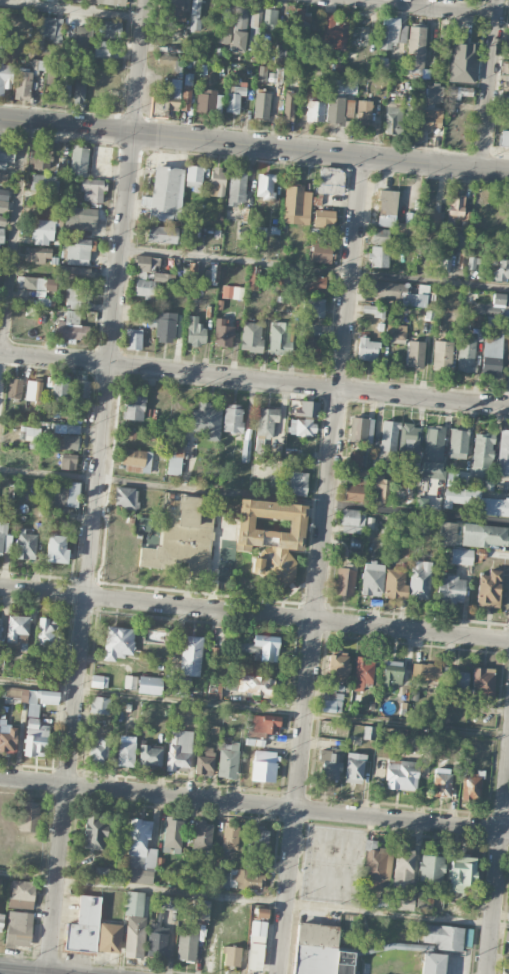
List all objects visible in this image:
building: (109, 2)
road: (435, 7)
building: (175, 9)
road: (72, 10)
building: (195, 15)
building: (224, 17)
building: (255, 17)
building: (240, 18)
building: (270, 20)
building: (300, 22)
building: (508, 24)
building: (47, 26)
building: (111, 28)
building: (332, 31)
building: (0, 32)
building: (392, 32)
building: (81, 37)
building: (444, 37)
building: (222, 38)
building: (416, 47)
building: (102, 49)
building: (462, 59)
building: (169, 60)
building: (382, 61)
building: (178, 68)
building: (507, 69)
building: (262, 73)
building: (276, 76)
building: (5, 77)
building: (506, 83)
road: (490, 84)
building: (22, 86)
building: (343, 86)
building: (65, 89)
building: (186, 90)
building: (78, 91)
building: (459, 92)
building: (434, 93)
building: (235, 98)
building: (205, 100)
building: (163, 101)
building: (261, 104)
building: (288, 104)
building: (330, 110)
building: (506, 112)
building: (364, 113)
building: (393, 117)
building: (425, 121)
building: (504, 138)
road: (254, 144)
building: (6, 155)
building: (41, 156)
building: (79, 160)
building: (3, 177)
building: (193, 177)
building: (331, 180)
building: (218, 181)
building: (44, 182)
building: (264, 185)
building: (236, 188)
building: (92, 190)
building: (165, 193)
building: (3, 202)
building: (296, 204)
building: (387, 208)
building: (458, 209)
building: (81, 218)
building: (323, 218)
building: (1, 229)
building: (43, 231)
building: (257, 234)
building: (162, 235)
building: (461, 243)
building: (379, 248)
building: (432, 248)
building: (75, 253)
building: (321, 253)
road: (13, 254)
building: (37, 254)
building: (472, 263)
building: (192, 267)
road: (314, 270)
building: (502, 270)
building: (211, 272)
building: (77, 273)
building: (145, 277)
building: (253, 278)
building: (31, 282)
building: (313, 283)
building: (232, 292)
building: (398, 293)
building: (75, 295)
building: (315, 307)
building: (69, 325)
building: (165, 327)
building: (194, 332)
building: (223, 332)
building: (397, 333)
building: (251, 337)
building: (280, 337)
building: (133, 339)
building: (309, 343)
building: (368, 349)
building: (442, 353)
building: (415, 354)
building: (466, 354)
building: (490, 356)
building: (507, 361)
road: (254, 381)
building: (60, 385)
building: (82, 388)
building: (15, 389)
building: (33, 390)
building: (133, 407)
building: (208, 417)
building: (232, 418)
building: (306, 418)
building: (267, 422)
building: (66, 428)
building: (29, 433)
building: (129, 434)
building: (389, 436)
building: (409, 437)
building: (66, 442)
building: (458, 443)
building: (245, 450)
building: (433, 451)
building: (503, 451)
building: (482, 456)
building: (354, 458)
building: (174, 459)
building: (136, 460)
building: (68, 461)
building: (297, 483)
building: (503, 484)
road: (95, 485)
building: (488, 485)
road: (163, 488)
building: (382, 488)
building: (354, 490)
building: (406, 492)
building: (65, 494)
building: (126, 498)
building: (477, 501)
building: (421, 502)
road: (418, 513)
building: (352, 521)
building: (447, 533)
building: (183, 534)
building: (270, 535)
building: (484, 535)
building: (5, 540)
building: (26, 543)
building: (57, 550)
building: (461, 556)
road: (321, 565)
building: (372, 579)
building: (345, 580)
building: (419, 580)
building: (395, 584)
building: (450, 589)
building: (489, 589)
building: (0, 614)
road: (254, 614)
building: (17, 632)
building: (45, 632)
building: (117, 642)
building: (261, 648)
building: (190, 655)
building: (338, 667)
building: (363, 672)
building: (425, 672)
building: (392, 673)
building: (454, 677)
building: (99, 681)
building: (483, 681)
building: (143, 683)
building: (177, 685)
building: (253, 685)
building: (214, 689)
building: (332, 698)
building: (99, 705)
road: (254, 707)
building: (32, 716)
building: (264, 726)
building: (369, 732)
building: (8, 738)
building: (98, 750)
building: (179, 750)
building: (124, 753)
building: (151, 755)
building: (227, 760)
building: (204, 763)
building: (329, 763)
building: (263, 766)
building: (354, 768)
building: (402, 775)
building: (442, 785)
building: (471, 786)
road: (254, 806)
building: (29, 816)
building: (94, 832)
building: (172, 834)
building: (201, 835)
building: (231, 837)
building: (260, 839)
building: (139, 853)
building: (255, 864)
building: (376, 865)
building: (403, 868)
building: (432, 868)
building: (104, 872)
building: (461, 874)
road: (498, 874)
building: (216, 879)
building: (246, 879)
building: (0, 887)
building: (22, 893)
road: (254, 900)
building: (424, 900)
building: (379, 902)
building: (401, 902)
building: (134, 903)
building: (200, 909)
building: (261, 912)
building: (1, 918)
building: (84, 925)
building: (17, 928)
building: (506, 935)
building: (444, 936)
building: (109, 938)
building: (134, 939)
building: (157, 940)
building: (256, 945)
building: (186, 946)
building: (320, 951)
building: (230, 955)
building: (432, 963)
building: (505, 969)
road: (31, 970)
road: (45, 973)

